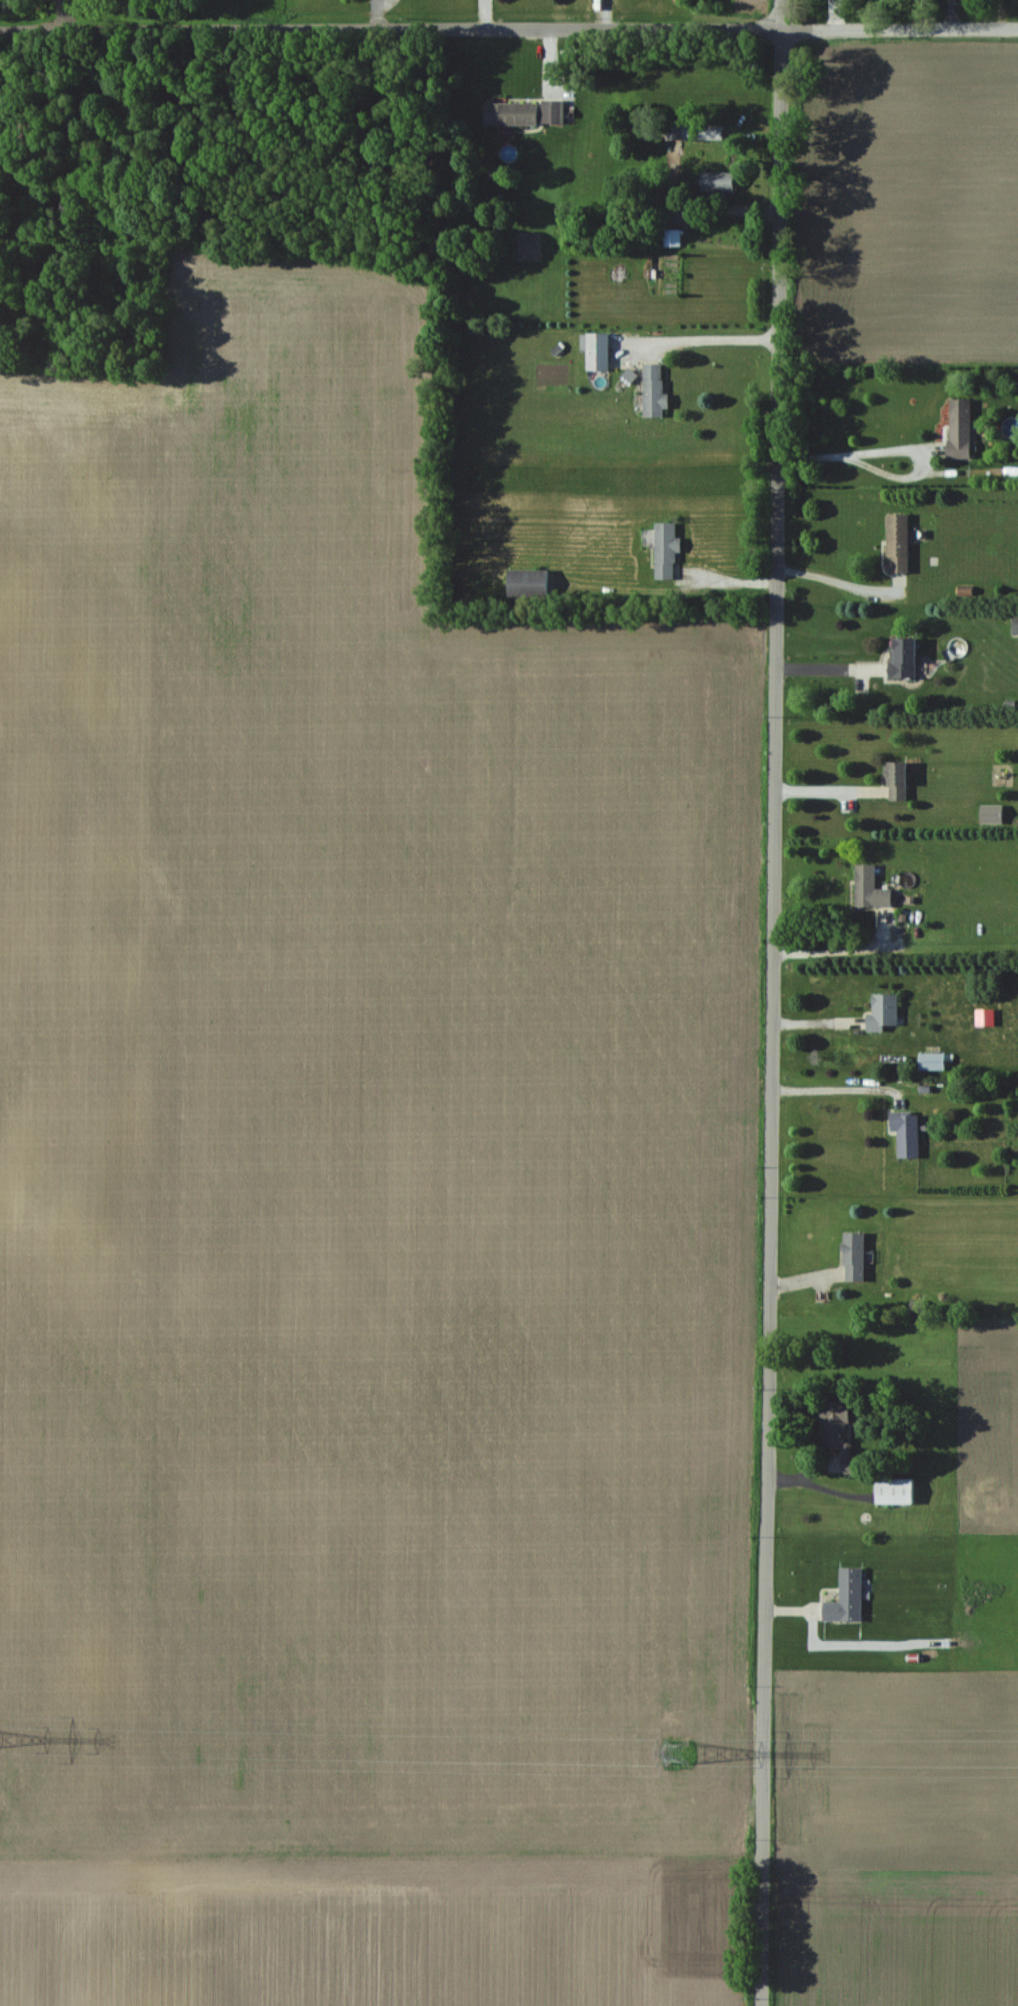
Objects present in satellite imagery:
road: (218, 16)
road: (509, 30)
building: (551, 111)
building: (508, 114)
building: (672, 132)
building: (706, 132)
building: (714, 182)
road: (731, 204)
road: (721, 341)
building: (594, 351)
building: (651, 390)
building: (957, 429)
road: (897, 450)
building: (895, 544)
building: (663, 552)
road: (840, 577)
building: (528, 585)
building: (1013, 626)
building: (900, 659)
road: (829, 667)
building: (893, 782)
road: (828, 789)
building: (867, 888)
road: (828, 954)
road: (772, 1002)
building: (880, 1013)
building: (929, 1061)
road: (830, 1094)
building: (903, 1132)
building: (851, 1256)
building: (834, 1431)
building: (891, 1491)
building: (844, 1598)
power tower: (674, 1751)

